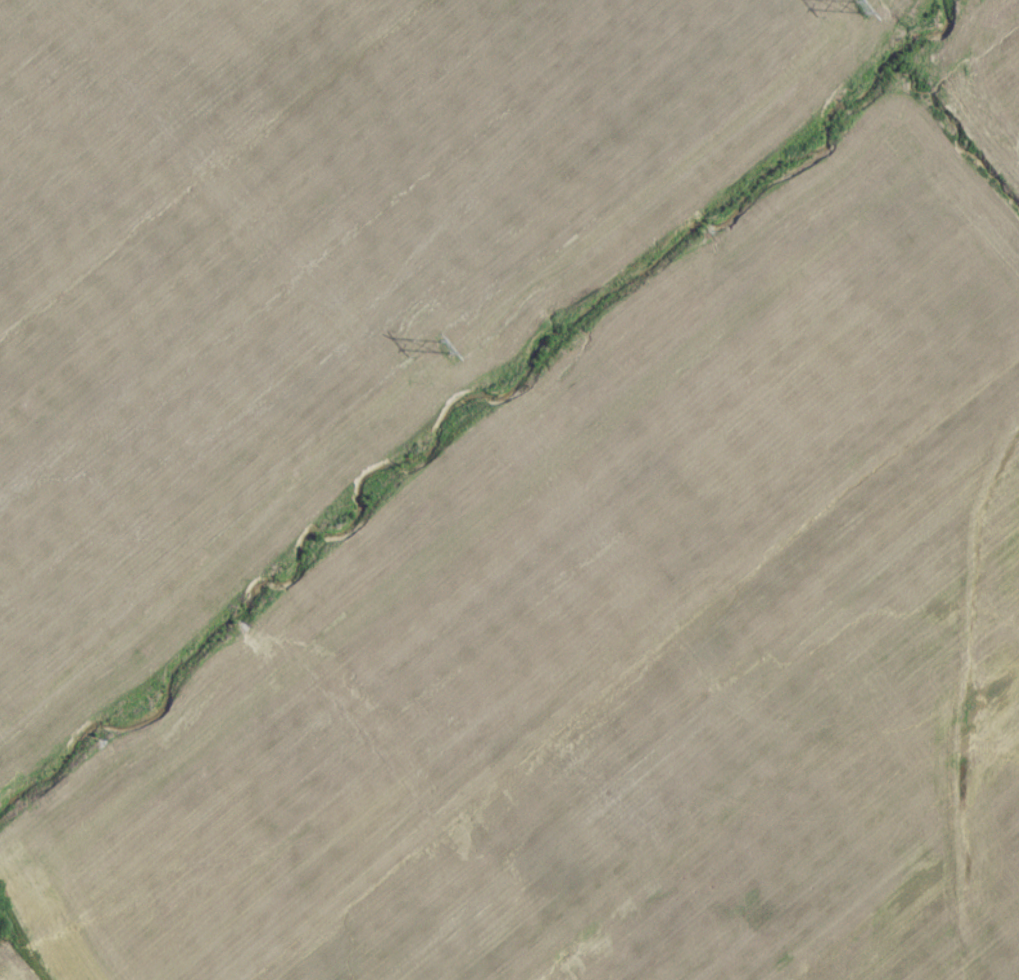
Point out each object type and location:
power tower: (855, 16)
power tower: (441, 354)

